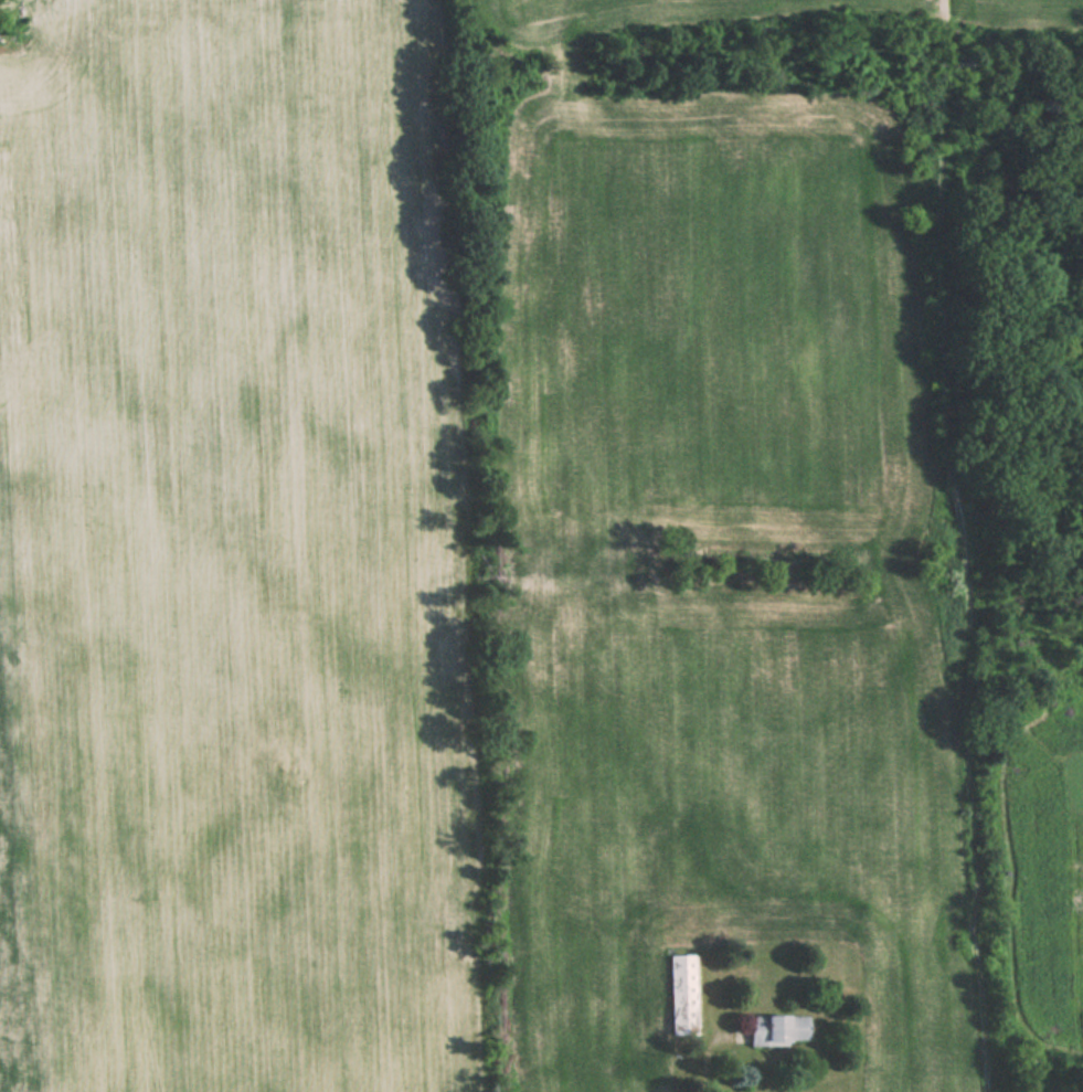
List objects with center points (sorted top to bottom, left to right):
road: (965, 545)
building: (682, 994)
building: (778, 1029)
road: (704, 1062)

